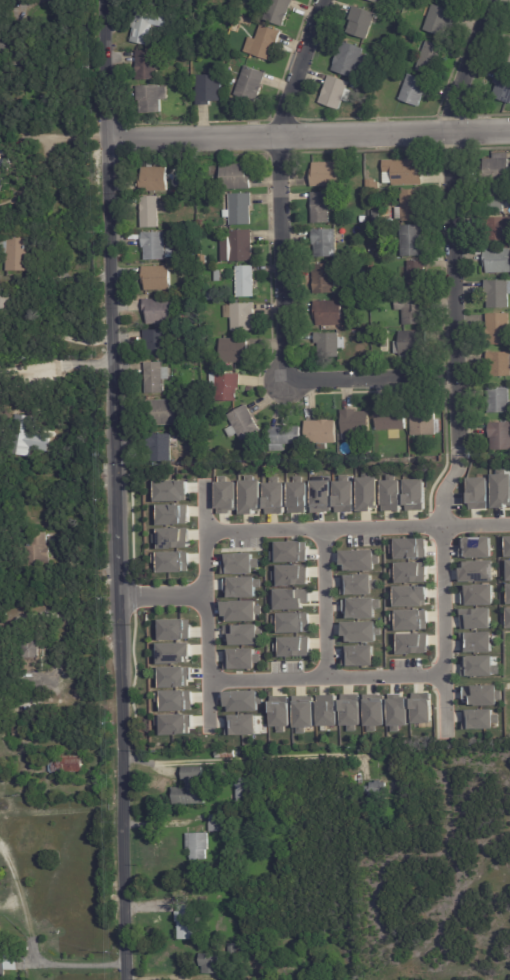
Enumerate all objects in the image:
building: (455, 0)
building: (373, 1)
building: (376, 1)
building: (279, 11)
building: (241, 20)
building: (395, 20)
building: (441, 20)
building: (362, 22)
building: (147, 27)
building: (384, 41)
building: (267, 42)
building: (17, 51)
building: (378, 52)
building: (431, 57)
building: (507, 58)
building: (351, 59)
building: (148, 65)
building: (387, 74)
building: (185, 78)
building: (251, 84)
building: (185, 85)
building: (355, 85)
building: (503, 88)
building: (210, 89)
building: (366, 90)
building: (416, 90)
building: (337, 93)
building: (152, 98)
road: (310, 133)
road: (56, 139)
building: (5, 169)
building: (498, 169)
building: (403, 173)
building: (326, 175)
building: (235, 177)
building: (156, 180)
building: (373, 184)
road: (276, 186)
building: (187, 188)
road: (12, 192)
building: (494, 200)
building: (411, 206)
building: (324, 208)
building: (241, 210)
building: (150, 213)
road: (449, 219)
building: (363, 220)
building: (372, 229)
building: (499, 230)
building: (412, 241)
building: (326, 243)
building: (155, 246)
building: (242, 246)
building: (171, 253)
building: (19, 254)
building: (202, 259)
building: (498, 261)
building: (364, 271)
building: (220, 275)
building: (416, 276)
building: (158, 279)
building: (327, 280)
building: (246, 282)
building: (232, 285)
building: (498, 294)
building: (210, 297)
building: (365, 304)
building: (5, 305)
building: (412, 310)
building: (162, 312)
building: (329, 314)
building: (241, 317)
building: (499, 329)
building: (157, 344)
building: (331, 345)
building: (410, 345)
building: (384, 350)
building: (236, 351)
building: (368, 361)
road: (57, 364)
building: (500, 365)
road: (368, 377)
building: (156, 378)
building: (226, 387)
building: (499, 400)
building: (163, 413)
building: (393, 422)
building: (425, 423)
building: (243, 424)
building: (356, 424)
building: (322, 432)
building: (500, 436)
building: (284, 438)
building: (21, 440)
building: (161, 449)
building: (425, 449)
road: (455, 451)
building: (383, 455)
road: (456, 462)
road: (116, 489)
building: (500, 489)
building: (169, 491)
building: (366, 492)
building: (477, 493)
building: (390, 494)
building: (414, 494)
building: (224, 495)
building: (295, 495)
building: (343, 495)
building: (248, 496)
building: (273, 496)
building: (319, 496)
building: (172, 515)
road: (356, 527)
building: (170, 538)
building: (507, 546)
building: (475, 547)
building: (408, 548)
building: (40, 552)
building: (289, 552)
building: (358, 559)
building: (170, 561)
building: (238, 563)
building: (507, 570)
building: (476, 571)
building: (409, 572)
building: (290, 575)
building: (356, 584)
building: (240, 586)
building: (477, 594)
building: (508, 594)
road: (160, 595)
building: (408, 596)
road: (441, 597)
building: (288, 598)
road: (323, 603)
road: (204, 604)
building: (360, 608)
building: (240, 610)
building: (475, 618)
building: (508, 618)
building: (409, 619)
building: (290, 622)
building: (173, 629)
building: (360, 631)
building: (13, 632)
building: (241, 634)
building: (475, 642)
building: (411, 643)
building: (292, 646)
building: (35, 652)
building: (171, 653)
park: (51, 656)
building: (357, 656)
building: (240, 658)
building: (478, 666)
building: (171, 676)
road: (324, 678)
building: (482, 695)
building: (173, 700)
building: (242, 701)
building: (421, 708)
building: (326, 710)
building: (350, 711)
building: (373, 711)
building: (279, 712)
building: (302, 712)
building: (396, 712)
building: (478, 719)
building: (173, 723)
building: (240, 724)
building: (18, 735)
building: (227, 756)
building: (68, 766)
building: (193, 789)
building: (240, 789)
building: (375, 790)
road: (60, 811)
building: (214, 823)
building: (196, 846)
building: (185, 921)
building: (0, 930)
road: (31, 947)
building: (214, 963)
building: (7, 965)

